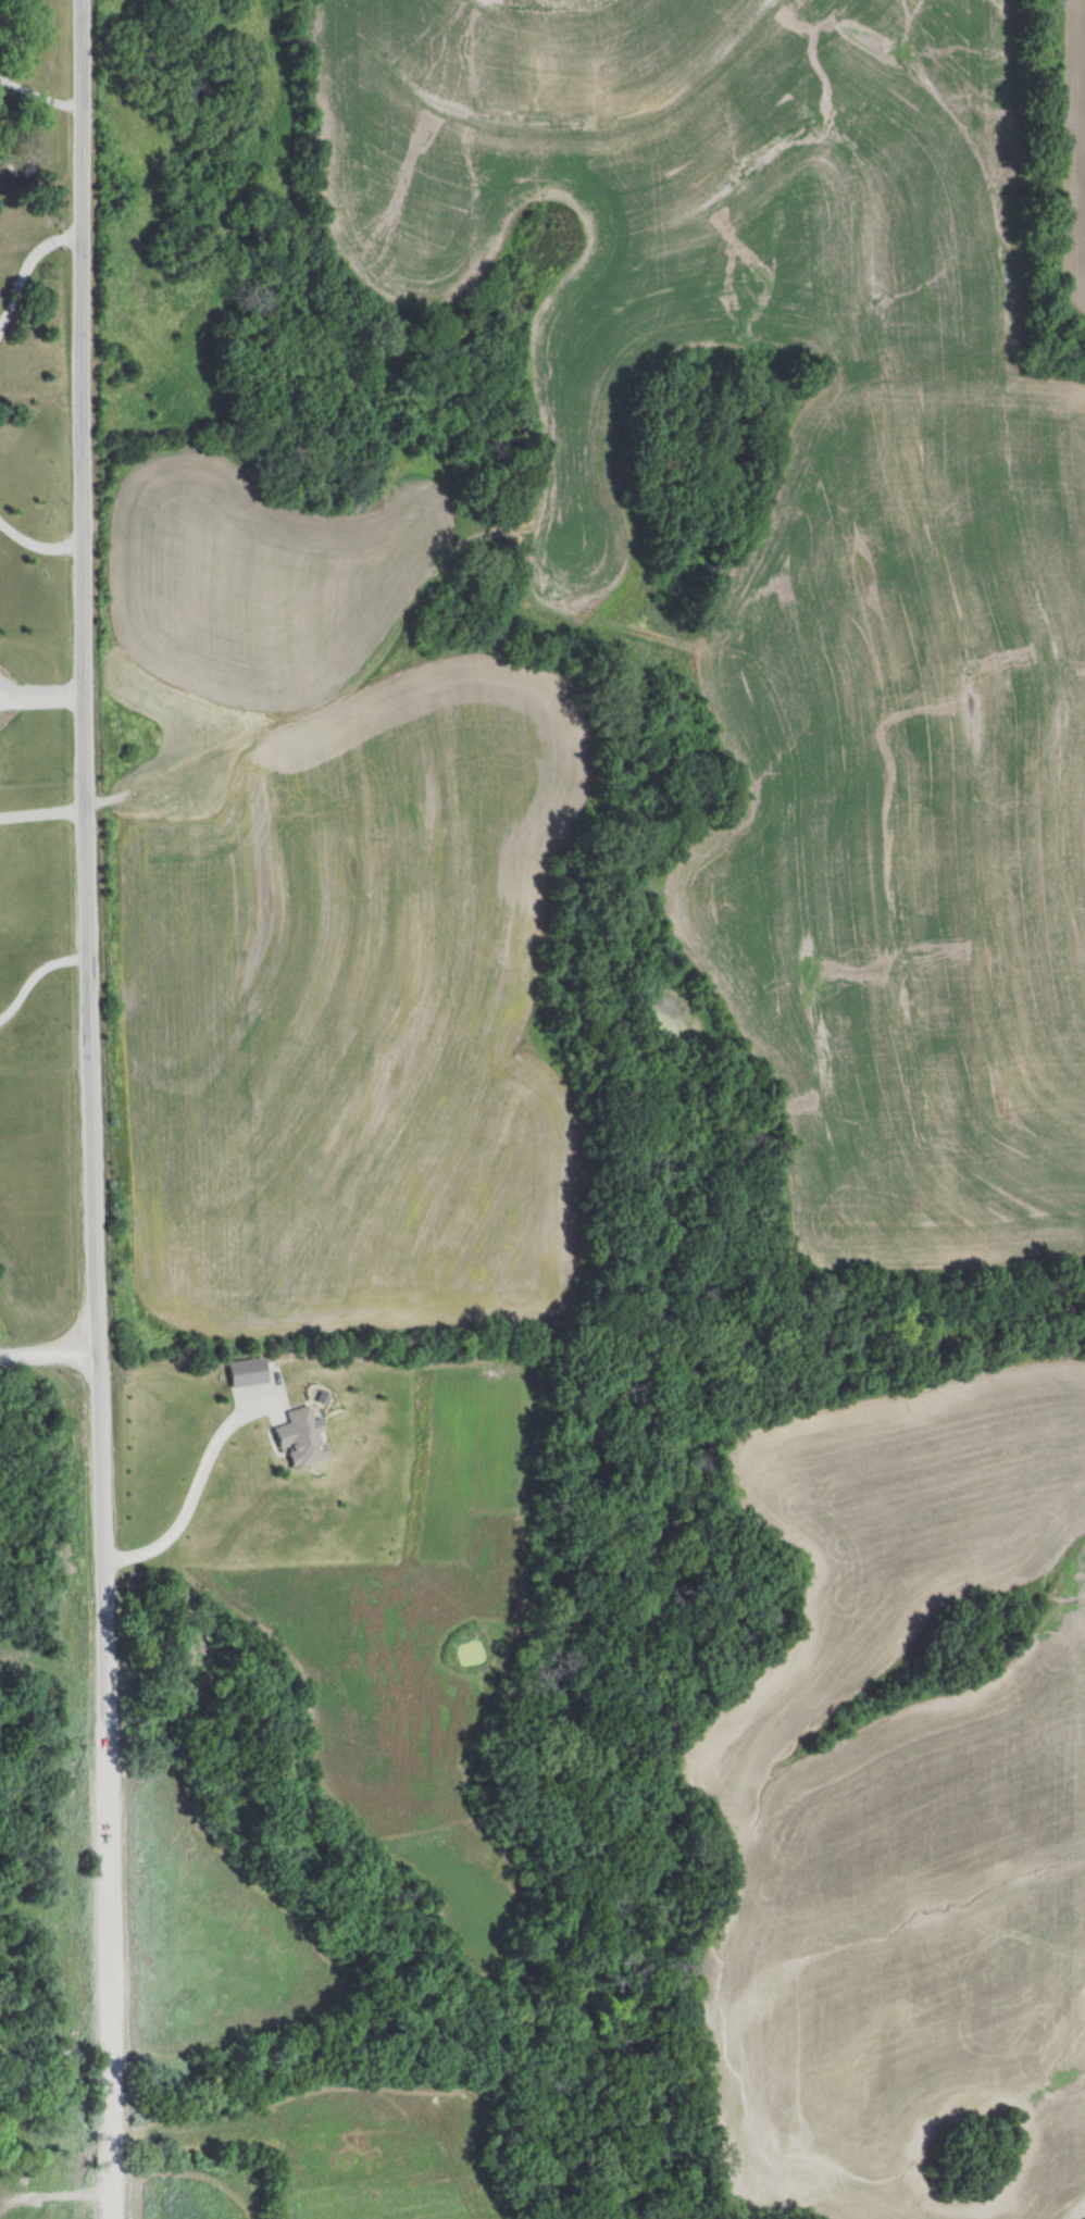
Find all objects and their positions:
crop: (908, 824)
crop: (364, 1017)
road: (96, 1109)
road: (49, 1360)
crop: (367, 1573)
crop: (911, 1816)
crop: (208, 1930)
crop: (360, 2146)

